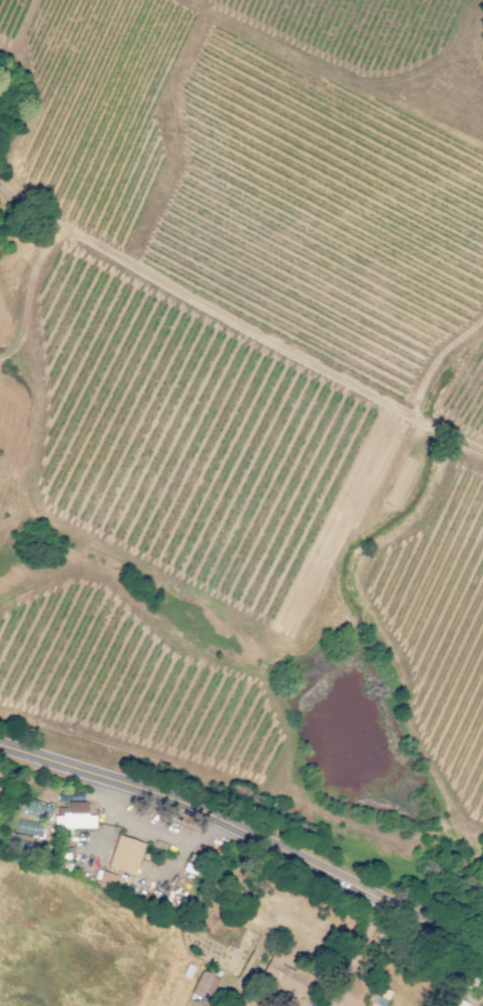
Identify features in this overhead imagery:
building: (72, 818)
building: (28, 828)
road: (248, 832)
building: (125, 855)
building: (106, 881)
road: (369, 956)
building: (283, 976)
building: (203, 985)
building: (378, 998)
building: (453, 1002)

